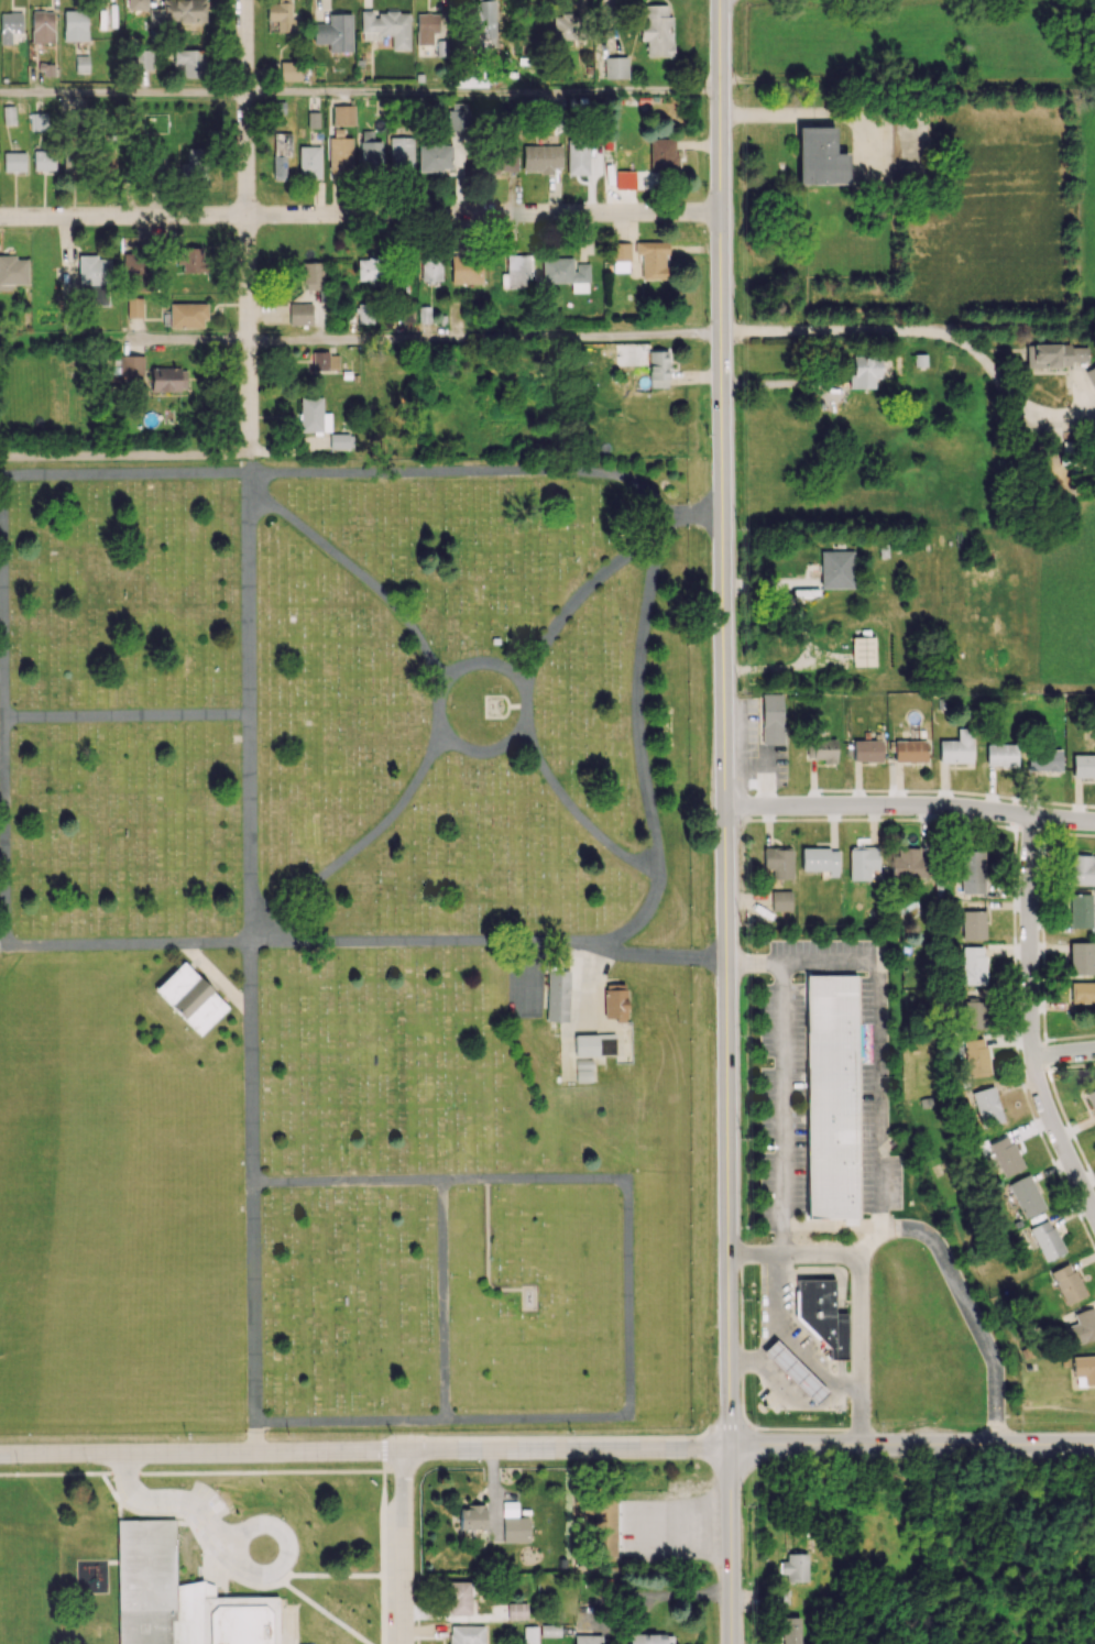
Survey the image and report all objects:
building: (136, 4)
building: (177, 12)
building: (281, 14)
building: (485, 18)
building: (9, 25)
building: (75, 25)
building: (42, 26)
building: (386, 26)
building: (427, 26)
building: (567, 26)
building: (656, 30)
building: (335, 32)
building: (142, 61)
building: (188, 63)
building: (81, 64)
building: (615, 67)
building: (47, 69)
building: (288, 70)
building: (470, 80)
road: (359, 91)
building: (342, 114)
road: (826, 116)
building: (458, 117)
building: (37, 121)
building: (369, 152)
building: (583, 155)
building: (401, 156)
building: (435, 156)
building: (340, 157)
building: (819, 157)
building: (541, 158)
building: (500, 160)
building: (13, 161)
building: (44, 161)
building: (70, 162)
building: (309, 162)
building: (278, 163)
building: (194, 165)
building: (649, 166)
road: (360, 215)
road: (245, 227)
building: (620, 256)
building: (651, 259)
building: (188, 260)
building: (430, 267)
building: (366, 270)
building: (467, 270)
building: (134, 271)
building: (12, 272)
building: (517, 272)
building: (566, 273)
building: (313, 275)
building: (94, 277)
building: (133, 307)
building: (364, 313)
building: (299, 314)
building: (186, 315)
building: (452, 316)
road: (911, 335)
road: (484, 340)
road: (123, 341)
building: (1054, 354)
building: (325, 361)
building: (131, 366)
building: (657, 369)
building: (863, 373)
building: (1091, 375)
building: (168, 379)
building: (313, 415)
building: (340, 441)
road: (124, 454)
road: (123, 475)
road: (467, 475)
road: (697, 516)
building: (836, 569)
road: (359, 578)
building: (495, 642)
building: (863, 651)
road: (526, 697)
building: (495, 706)
road: (248, 711)
road: (437, 713)
building: (771, 719)
road: (125, 720)
road: (725, 722)
road: (640, 741)
building: (956, 747)
building: (822, 749)
building: (866, 750)
building: (909, 750)
building: (1001, 755)
building: (1043, 759)
building: (1083, 765)
road: (910, 808)
road: (354, 852)
building: (820, 861)
building: (778, 862)
building: (862, 863)
building: (908, 863)
building: (1082, 869)
building: (971, 870)
road: (4, 875)
building: (780, 900)
building: (1080, 910)
building: (972, 924)
road: (429, 945)
park: (343, 950)
road: (665, 957)
building: (1080, 957)
building: (973, 965)
building: (1082, 991)
building: (559, 996)
building: (191, 999)
building: (618, 1000)
building: (973, 1013)
road: (1032, 1017)
building: (596, 1045)
road: (1063, 1053)
building: (975, 1056)
building: (584, 1066)
building: (584, 1077)
building: (830, 1096)
building: (1092, 1100)
building: (986, 1106)
road: (781, 1107)
road: (878, 1155)
building: (1005, 1155)
building: (1025, 1195)
road: (253, 1197)
road: (830, 1226)
building: (1045, 1240)
road: (869, 1241)
building: (1066, 1283)
road: (861, 1284)
road: (628, 1300)
road: (444, 1303)
road: (774, 1312)
building: (821, 1315)
building: (1081, 1327)
building: (1084, 1368)
building: (793, 1372)
road: (790, 1389)
road: (912, 1444)
road: (365, 1449)
road: (168, 1500)
building: (471, 1517)
building: (606, 1526)
building: (515, 1530)
road: (731, 1545)
road: (403, 1547)
park: (30, 1559)
building: (147, 1559)
road: (277, 1565)
building: (795, 1567)
building: (778, 1597)
building: (458, 1598)
building: (516, 1611)
road: (293, 1626)
building: (549, 1630)
building: (790, 1630)
building: (466, 1634)
building: (529, 1635)
building: (99, 1636)
building: (589, 1638)
building: (649, 1638)

